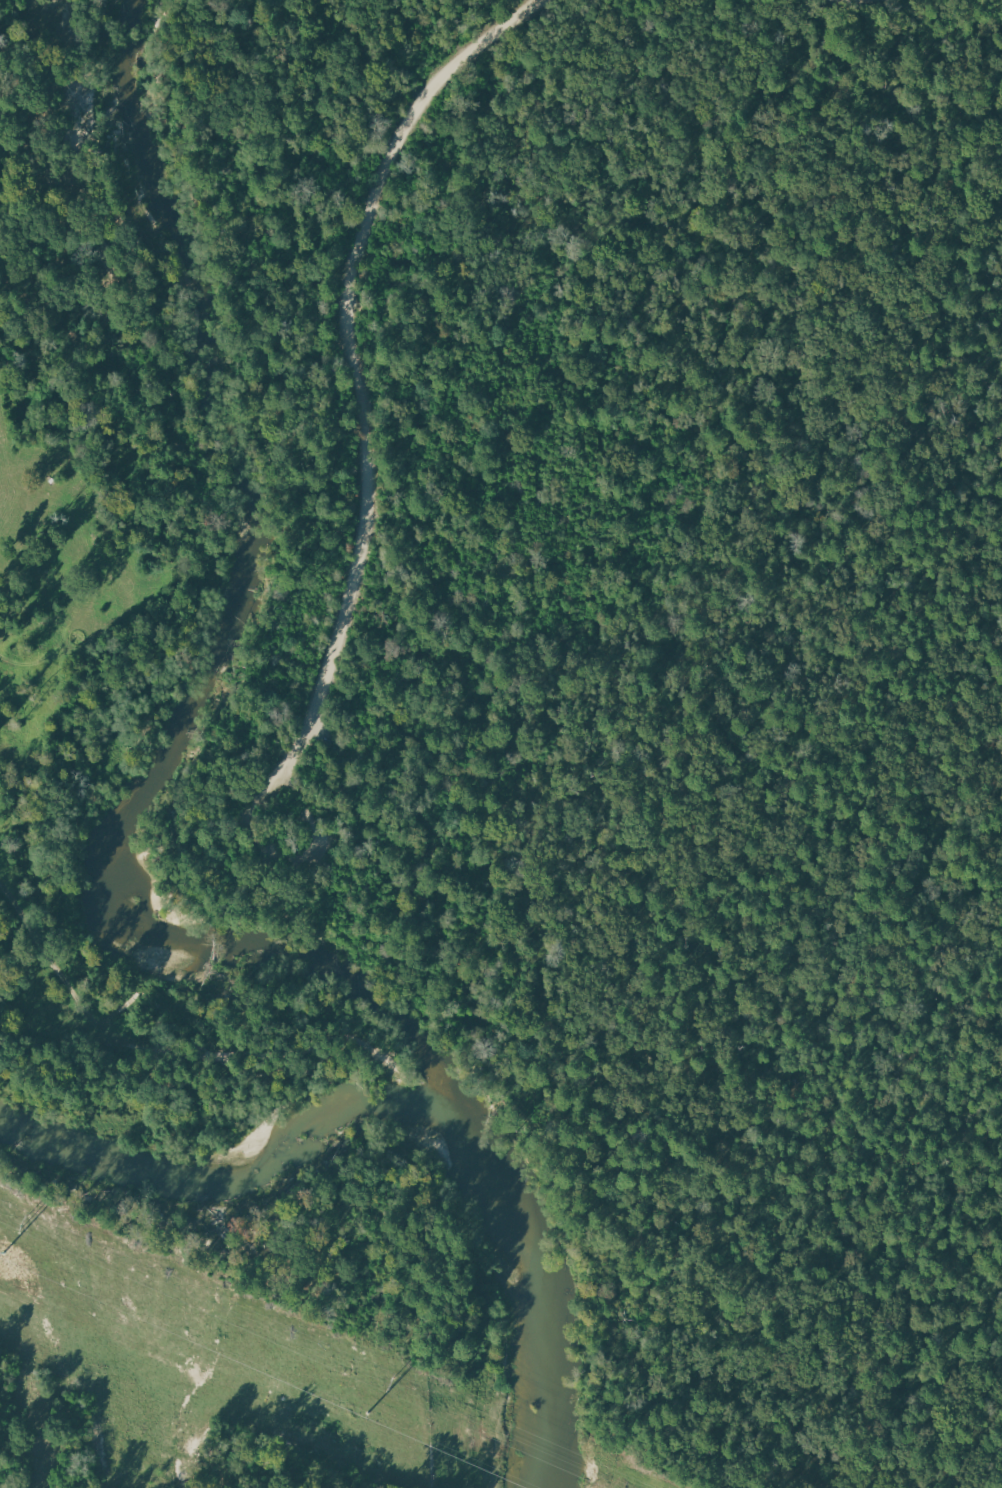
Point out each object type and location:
road: (362, 426)
river: (180, 676)
road: (654, 730)
river: (397, 1100)
power tower: (25, 1222)
power tower: (392, 1384)

